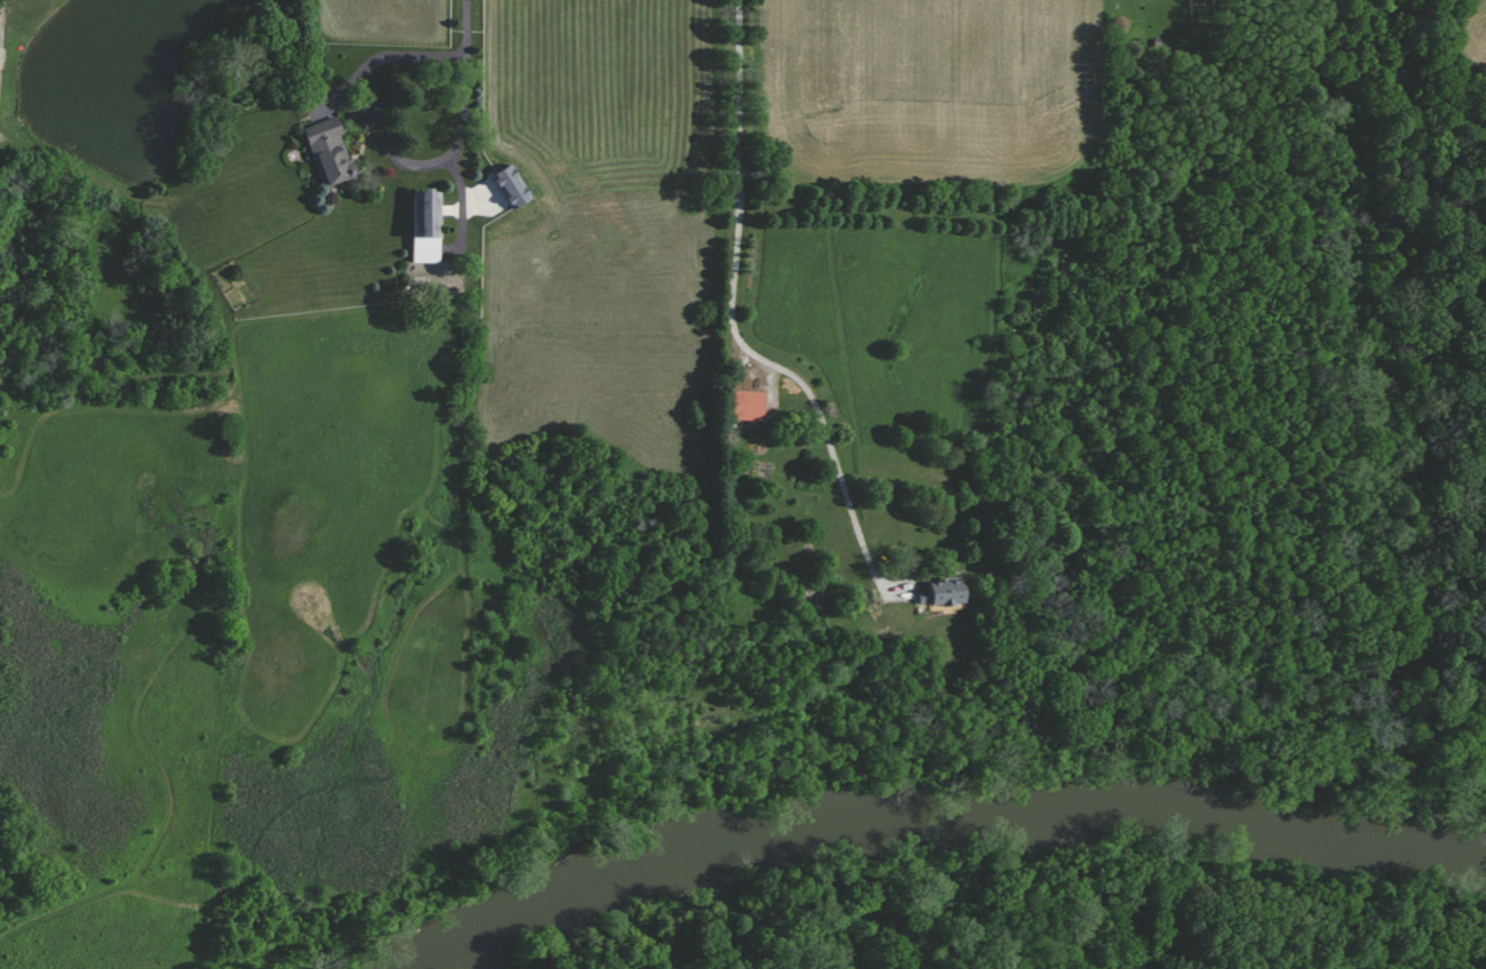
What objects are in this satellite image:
road: (1, 25)
building: (333, 150)
building: (516, 186)
building: (431, 225)
road: (734, 327)
building: (755, 405)
building: (947, 593)
river: (963, 831)

